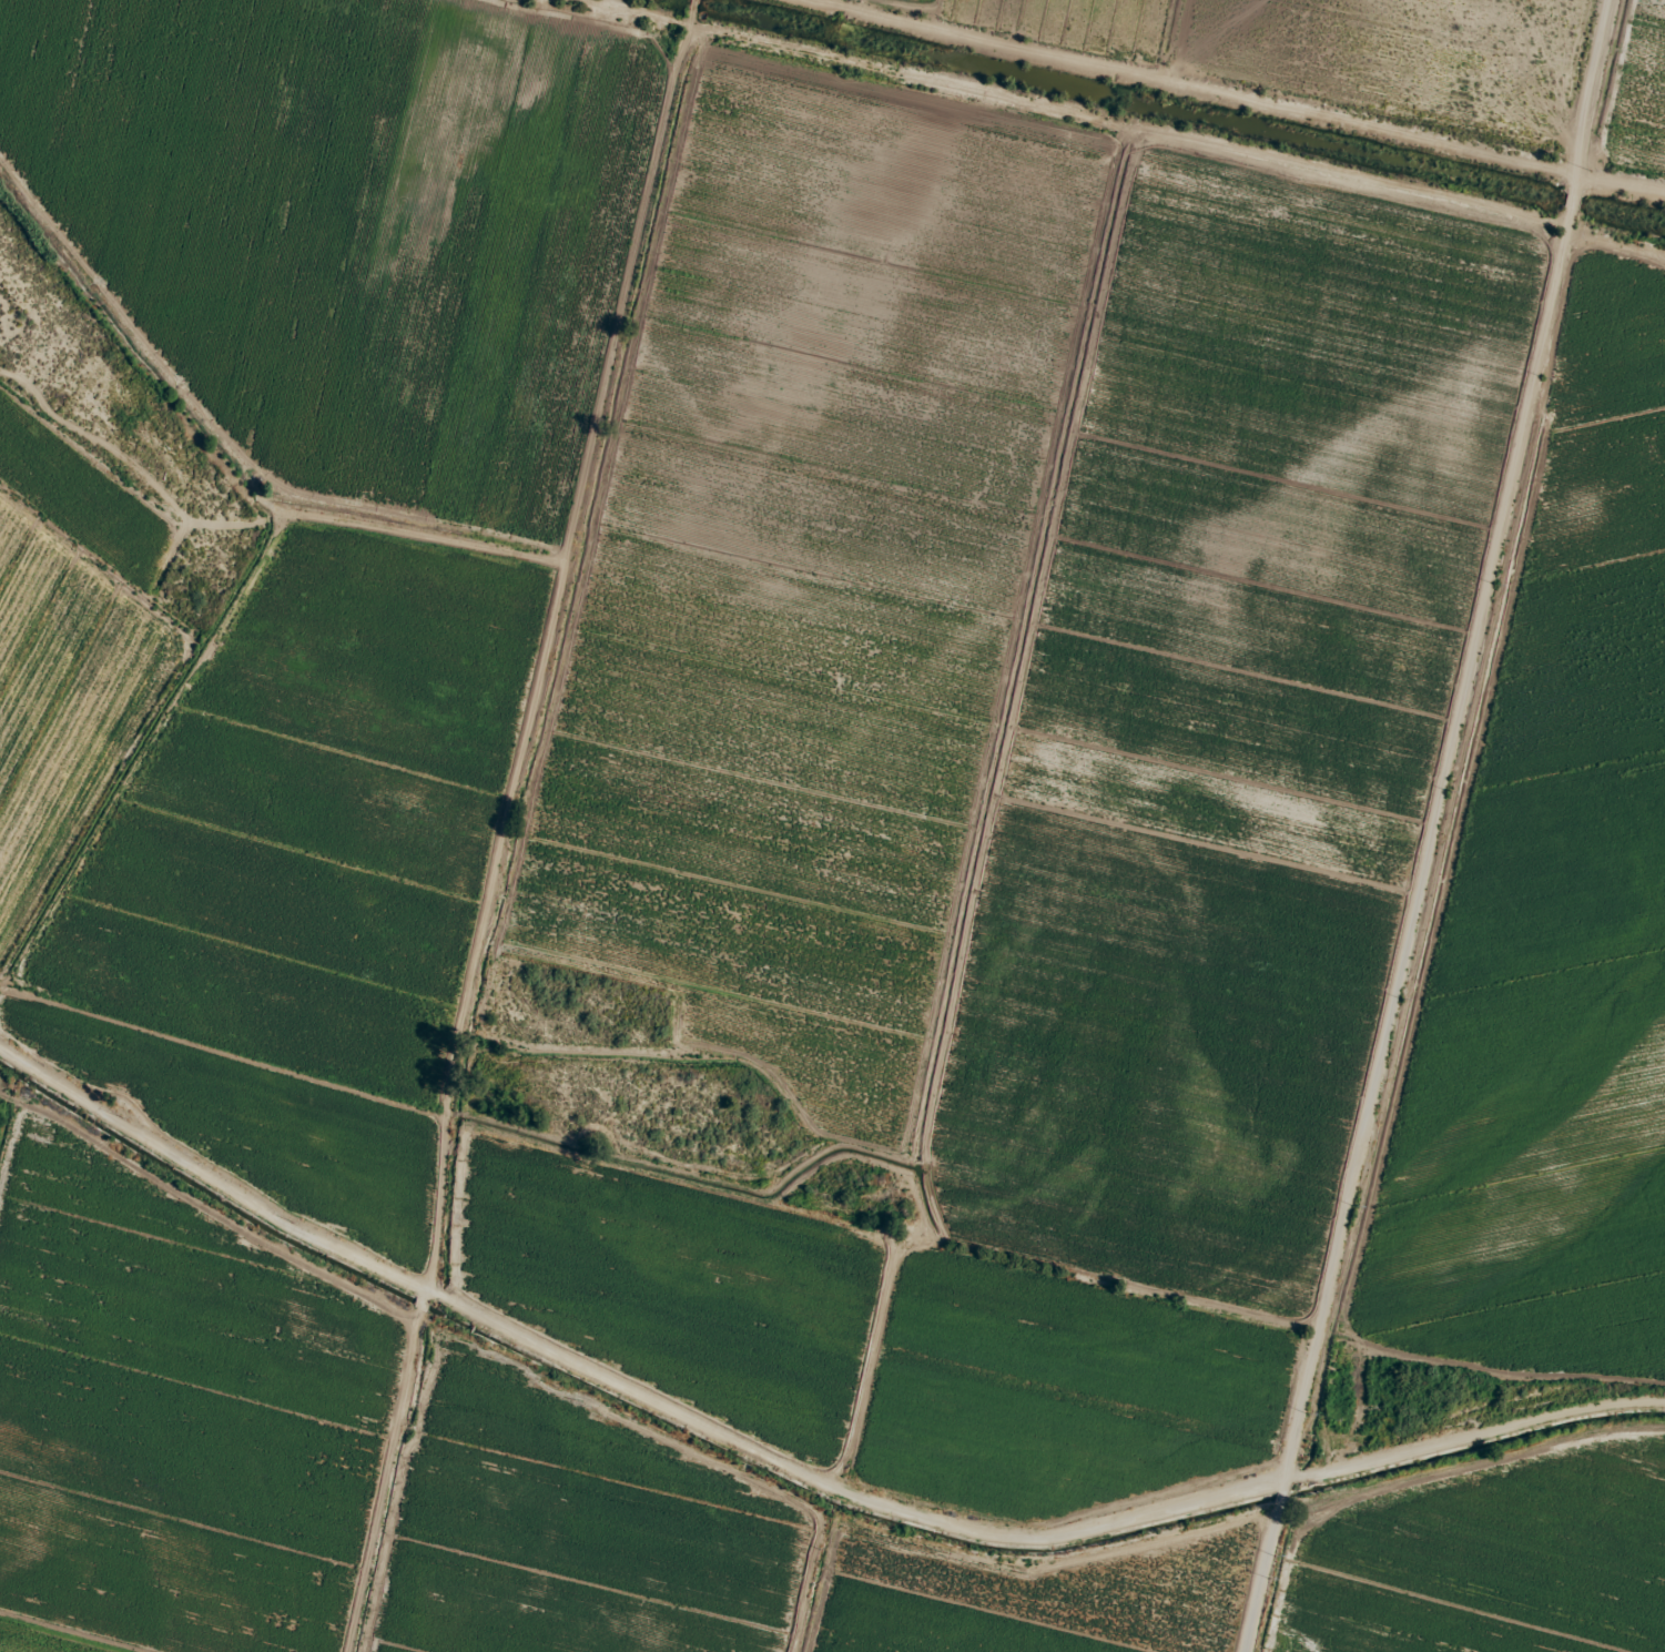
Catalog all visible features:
road: (1430, 825)

